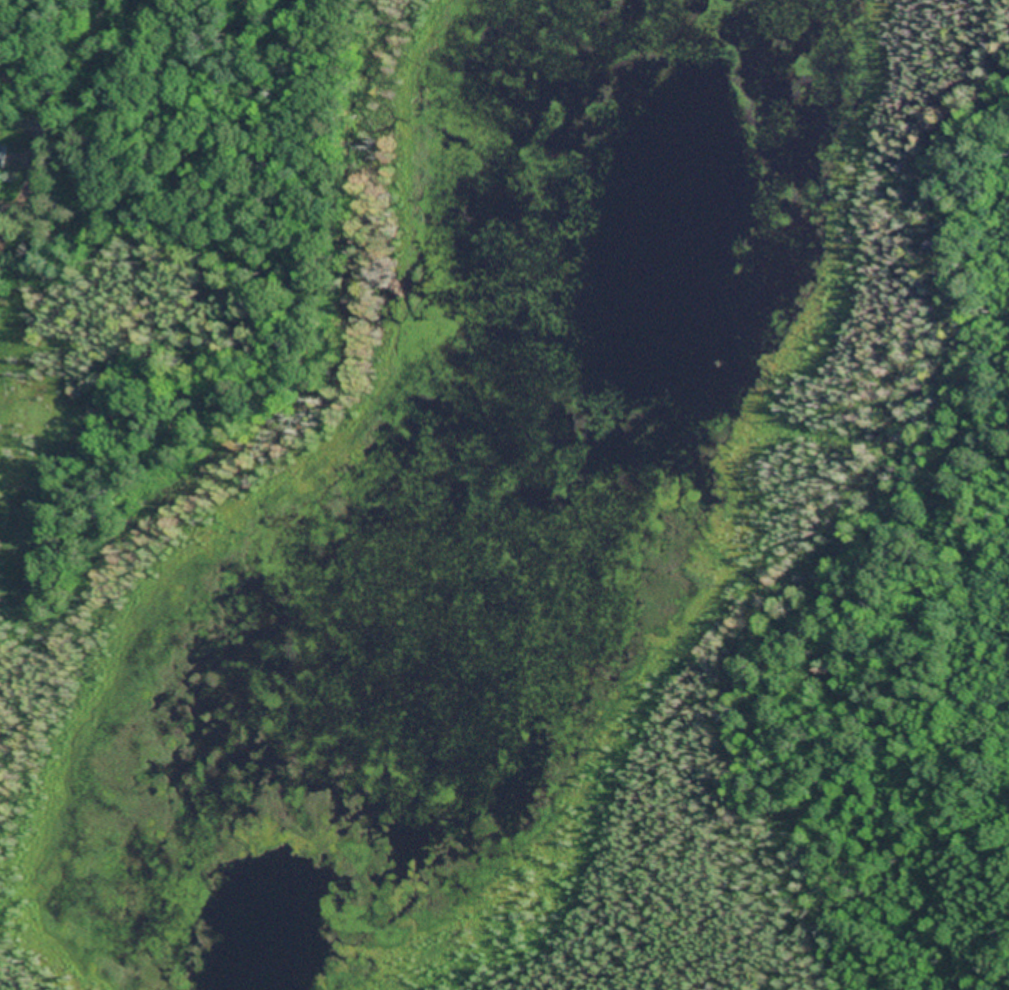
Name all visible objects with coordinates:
road: (43, 118)
building: (1, 157)

